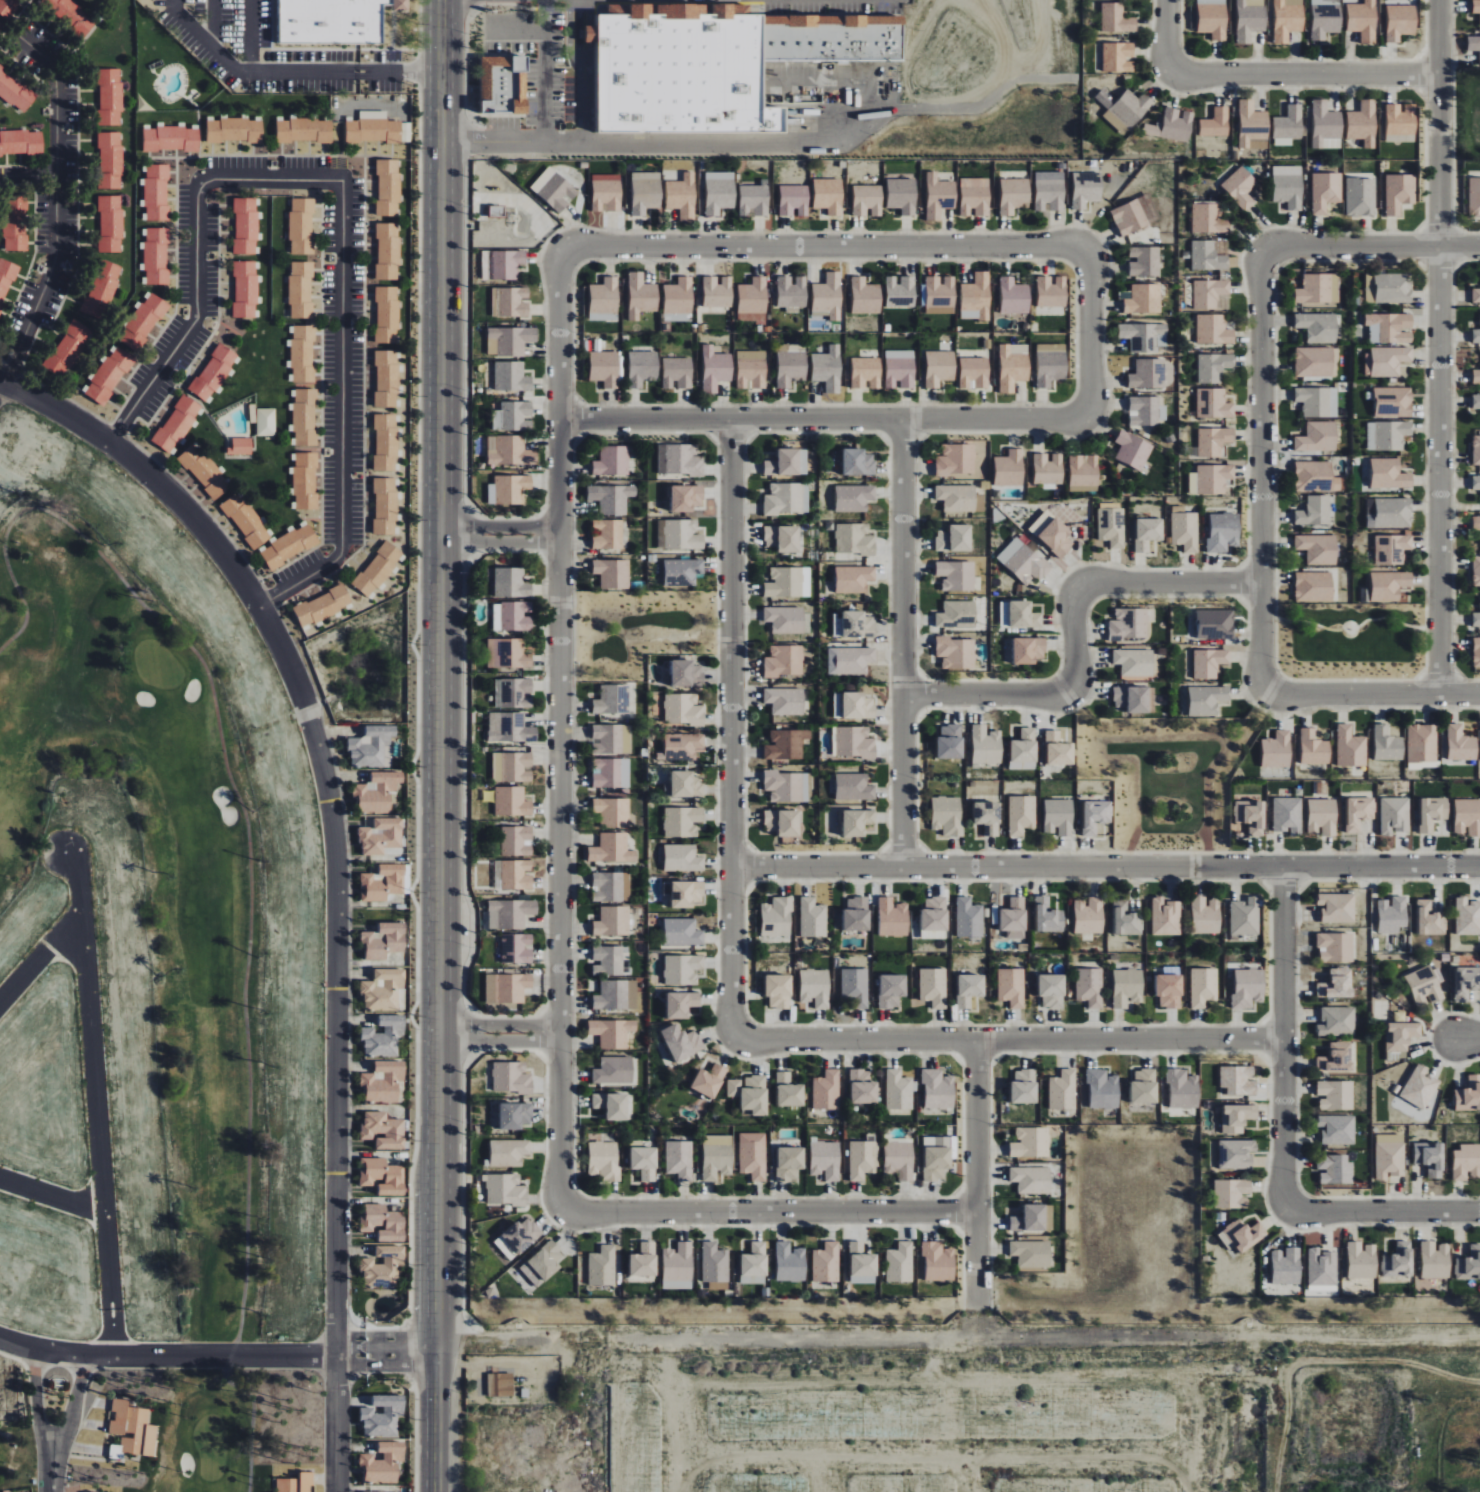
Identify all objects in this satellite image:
building: (1476, 6)
building: (9, 7)
parking lot: (831, 7)
building: (70, 15)
building: (1212, 18)
building: (1325, 18)
building: (1116, 19)
building: (1249, 19)
building: (1287, 19)
building: (1363, 20)
building: (334, 21)
building: (1400, 22)
building: (0, 25)
road: (215, 25)
building: (1479, 25)
road: (516, 34)
building: (591, 34)
road: (250, 35)
road: (1168, 35)
road: (586, 36)
road: (573, 37)
building: (831, 38)
building: (1473, 44)
building: (1118, 57)
parking lot: (535, 66)
road: (290, 71)
road: (545, 71)
building: (680, 74)
road: (1305, 75)
building: (500, 86)
building: (15, 91)
building: (110, 97)
road: (586, 107)
building: (1124, 109)
building: (1216, 123)
building: (1251, 123)
building: (1363, 123)
building: (1400, 123)
building: (1172, 125)
building: (1288, 126)
building: (1326, 126)
building: (373, 128)
building: (234, 130)
building: (305, 130)
building: (170, 139)
road: (770, 142)
building: (21, 143)
building: (110, 160)
road: (28, 176)
road: (271, 180)
building: (1288, 186)
building: (388, 187)
building: (1240, 187)
building: (554, 189)
building: (1086, 189)
building: (1049, 191)
building: (1326, 191)
building: (156, 192)
building: (646, 192)
building: (719, 192)
building: (606, 193)
building: (1399, 193)
building: (902, 195)
building: (1013, 195)
building: (682, 196)
building: (828, 196)
building: (939, 196)
building: (975, 197)
building: (1360, 197)
building: (1474, 197)
building: (754, 199)
building: (793, 201)
building: (867, 201)
road: (57, 208)
building: (497, 212)
building: (1129, 218)
building: (1209, 219)
building: (15, 222)
building: (111, 223)
building: (245, 225)
building: (301, 225)
road: (826, 248)
road: (1372, 248)
building: (387, 250)
building: (1210, 255)
building: (156, 256)
building: (1144, 261)
building: (505, 263)
building: (6, 279)
building: (1388, 287)
building: (102, 288)
building: (1319, 288)
building: (244, 289)
building: (301, 289)
building: (717, 291)
building: (791, 291)
building: (900, 291)
building: (1051, 291)
building: (1209, 293)
building: (828, 295)
building: (939, 295)
building: (1476, 295)
building: (641, 296)
building: (865, 296)
building: (1014, 296)
building: (976, 297)
building: (1146, 298)
building: (604, 300)
building: (678, 300)
building: (753, 300)
building: (510, 301)
building: (387, 314)
building: (143, 321)
road: (192, 326)
building: (1318, 326)
building: (1389, 327)
building: (1214, 329)
road: (1091, 333)
building: (1476, 335)
building: (1144, 336)
building: (509, 340)
building: (789, 347)
road: (1440, 347)
building: (68, 348)
building: (302, 353)
building: (1315, 361)
building: (1386, 361)
building: (1051, 363)
building: (1013, 365)
building: (643, 367)
building: (791, 367)
building: (939, 367)
building: (1214, 367)
building: (605, 368)
building: (715, 368)
building: (828, 368)
building: (751, 369)
building: (899, 369)
building: (213, 372)
building: (866, 372)
building: (974, 372)
building: (678, 373)
building: (1148, 373)
building: (109, 374)
building: (512, 376)
building: (1476, 376)
building: (386, 378)
road: (1, 386)
building: (1317, 401)
building: (1476, 401)
building: (1393, 402)
building: (1214, 403)
building: (1146, 411)
road: (342, 416)
building: (514, 416)
building: (304, 417)
road: (824, 420)
building: (266, 422)
building: (177, 423)
building: (1387, 435)
building: (1318, 437)
building: (1214, 441)
building: (385, 442)
building: (240, 446)
building: (1133, 449)
building: (1476, 449)
building: (510, 450)
building: (679, 459)
building: (956, 459)
building: (612, 461)
building: (787, 462)
building: (858, 462)
building: (1010, 469)
building: (1048, 469)
building: (204, 471)
road: (1263, 471)
building: (1084, 472)
building: (1389, 474)
building: (1316, 476)
building: (1213, 478)
building: (304, 480)
building: (1476, 482)
building: (511, 488)
building: (686, 497)
building: (854, 497)
building: (957, 497)
building: (612, 498)
building: (385, 505)
building: (1315, 511)
building: (1389, 513)
building: (245, 520)
building: (1111, 526)
road: (500, 527)
building: (1185, 530)
building: (1478, 530)
building: (1147, 532)
building: (1223, 532)
building: (607, 533)
building: (1052, 533)
building: (680, 535)
building: (783, 538)
building: (854, 538)
building: (955, 538)
road: (500, 543)
building: (288, 546)
building: (1318, 548)
building: (1392, 548)
building: (1023, 561)
building: (378, 568)
building: (682, 571)
building: (1476, 571)
building: (612, 573)
building: (956, 575)
building: (854, 578)
building: (785, 582)
building: (511, 583)
road: (1170, 583)
building: (1389, 585)
building: (1314, 586)
building: (322, 605)
building: (957, 614)
building: (1024, 615)
building: (513, 616)
building: (1476, 619)
building: (788, 620)
building: (1129, 624)
building: (1215, 624)
road: (1076, 639)
park: (1351, 640)
road: (904, 643)
building: (1028, 649)
building: (956, 652)
building: (1476, 652)
building: (508, 653)
building: (784, 660)
building: (850, 661)
building: (1134, 662)
building: (1209, 662)
building: (686, 673)
building: (514, 693)
road: (988, 695)
road: (1372, 695)
building: (1134, 698)
building: (612, 699)
building: (1207, 699)
building: (785, 701)
building: (857, 705)
building: (683, 709)
building: (511, 728)
road: (732, 728)
road: (560, 729)
building: (612, 738)
building: (853, 742)
building: (950, 742)
building: (787, 744)
building: (1387, 744)
building: (1461, 744)
building: (986, 745)
road: (440, 746)
building: (682, 746)
building: (1422, 746)
building: (373, 747)
building: (1314, 747)
building: (1350, 747)
building: (1058, 749)
building: (1277, 749)
building: (1024, 750)
building: (512, 767)
building: (611, 772)
building: (684, 784)
building: (787, 786)
building: (854, 787)
building: (378, 792)
building: (511, 801)
road: (242, 806)
building: (613, 812)
building: (1359, 812)
building: (1433, 812)
building: (1021, 814)
building: (947, 815)
building: (1095, 815)
building: (1250, 815)
building: (1288, 815)
building: (1395, 815)
building: (1322, 816)
building: (1467, 816)
building: (988, 817)
building: (1058, 817)
building: (682, 821)
building: (857, 821)
building: (782, 822)
building: (381, 836)
building: (517, 840)
building: (612, 849)
building: (682, 858)
road: (337, 867)
road: (1106, 867)
building: (517, 874)
building: (383, 883)
building: (611, 886)
building: (684, 893)
building: (1337, 907)
building: (510, 913)
building: (856, 914)
building: (1392, 914)
building: (1089, 915)
building: (1206, 915)
building: (1048, 916)
building: (1166, 916)
building: (1245, 916)
building: (1467, 916)
building: (892, 917)
building: (777, 918)
building: (813, 918)
building: (934, 918)
building: (969, 918)
building: (1014, 919)
building: (1127, 919)
building: (1430, 919)
building: (612, 921)
building: (683, 932)
building: (384, 940)
building: (1336, 947)
building: (517, 948)
road: (41, 956)
building: (611, 960)
building: (683, 969)
building: (1466, 982)
building: (1337, 983)
building: (1203, 986)
building: (1424, 986)
building: (855, 987)
building: (933, 987)
building: (1012, 987)
building: (1090, 987)
building: (1127, 987)
building: (1170, 987)
building: (507, 988)
building: (815, 988)
building: (1248, 988)
building: (383, 989)
building: (969, 989)
building: (891, 990)
building: (1052, 990)
building: (778, 991)
building: (612, 995)
building: (681, 1004)
building: (1337, 1021)
road: (500, 1026)
building: (613, 1034)
building: (384, 1036)
road: (1284, 1037)
building: (1400, 1038)
road: (1009, 1039)
road: (1466, 1039)
road: (500, 1042)
building: (681, 1042)
building: (1337, 1058)
building: (614, 1070)
building: (511, 1077)
building: (709, 1080)
building: (1238, 1080)
building: (383, 1081)
building: (863, 1087)
building: (1024, 1087)
building: (1144, 1087)
building: (1420, 1087)
building: (1102, 1088)
building: (1182, 1088)
building: (938, 1089)
building: (827, 1090)
building: (899, 1090)
building: (1063, 1090)
building: (789, 1091)
building: (750, 1093)
building: (1335, 1095)
building: (1469, 1095)
road: (97, 1102)
building: (612, 1105)
park: (212, 1112)
building: (515, 1115)
building: (1237, 1117)
building: (1337, 1129)
building: (383, 1130)
building: (1031, 1142)
building: (509, 1152)
building: (1236, 1154)
building: (753, 1155)
building: (716, 1156)
building: (1390, 1156)
building: (936, 1157)
building: (1430, 1158)
building: (680, 1159)
building: (604, 1160)
building: (826, 1160)
building: (863, 1160)
building: (899, 1160)
building: (644, 1162)
building: (1467, 1162)
building: (789, 1163)
building: (1335, 1169)
road: (978, 1175)
building: (382, 1176)
building: (1031, 1179)
building: (505, 1189)
building: (1232, 1193)
road: (52, 1196)
road: (770, 1212)
road: (1383, 1212)
building: (1029, 1219)
building: (383, 1223)
building: (521, 1235)
building: (1241, 1235)
building: (1031, 1253)
building: (644, 1260)
building: (862, 1260)
building: (1361, 1260)
building: (1435, 1260)
building: (938, 1261)
building: (1398, 1261)
building: (790, 1262)
building: (543, 1263)
building: (826, 1263)
building: (900, 1263)
building: (754, 1264)
building: (1469, 1264)
building: (603, 1266)
building: (678, 1266)
building: (715, 1266)
building: (1286, 1266)
building: (1322, 1267)
road: (400, 1334)
road: (451, 1334)
road: (351, 1335)
road: (869, 1335)
road: (400, 1347)
road: (349, 1348)
road: (167, 1357)
road: (380, 1357)
road: (1321, 1361)
road: (349, 1365)
road: (399, 1365)
building: (499, 1384)
road: (37, 1416)
road: (253, 1416)
building: (383, 1416)
road: (71, 1419)
crop: (1374, 1423)
building: (133, 1429)
road: (1286, 1431)
building: (382, 1463)
building: (306, 1482)
building: (287, 1485)
road: (52, 1487)
building: (361, 1491)
road: (1383, 1491)

